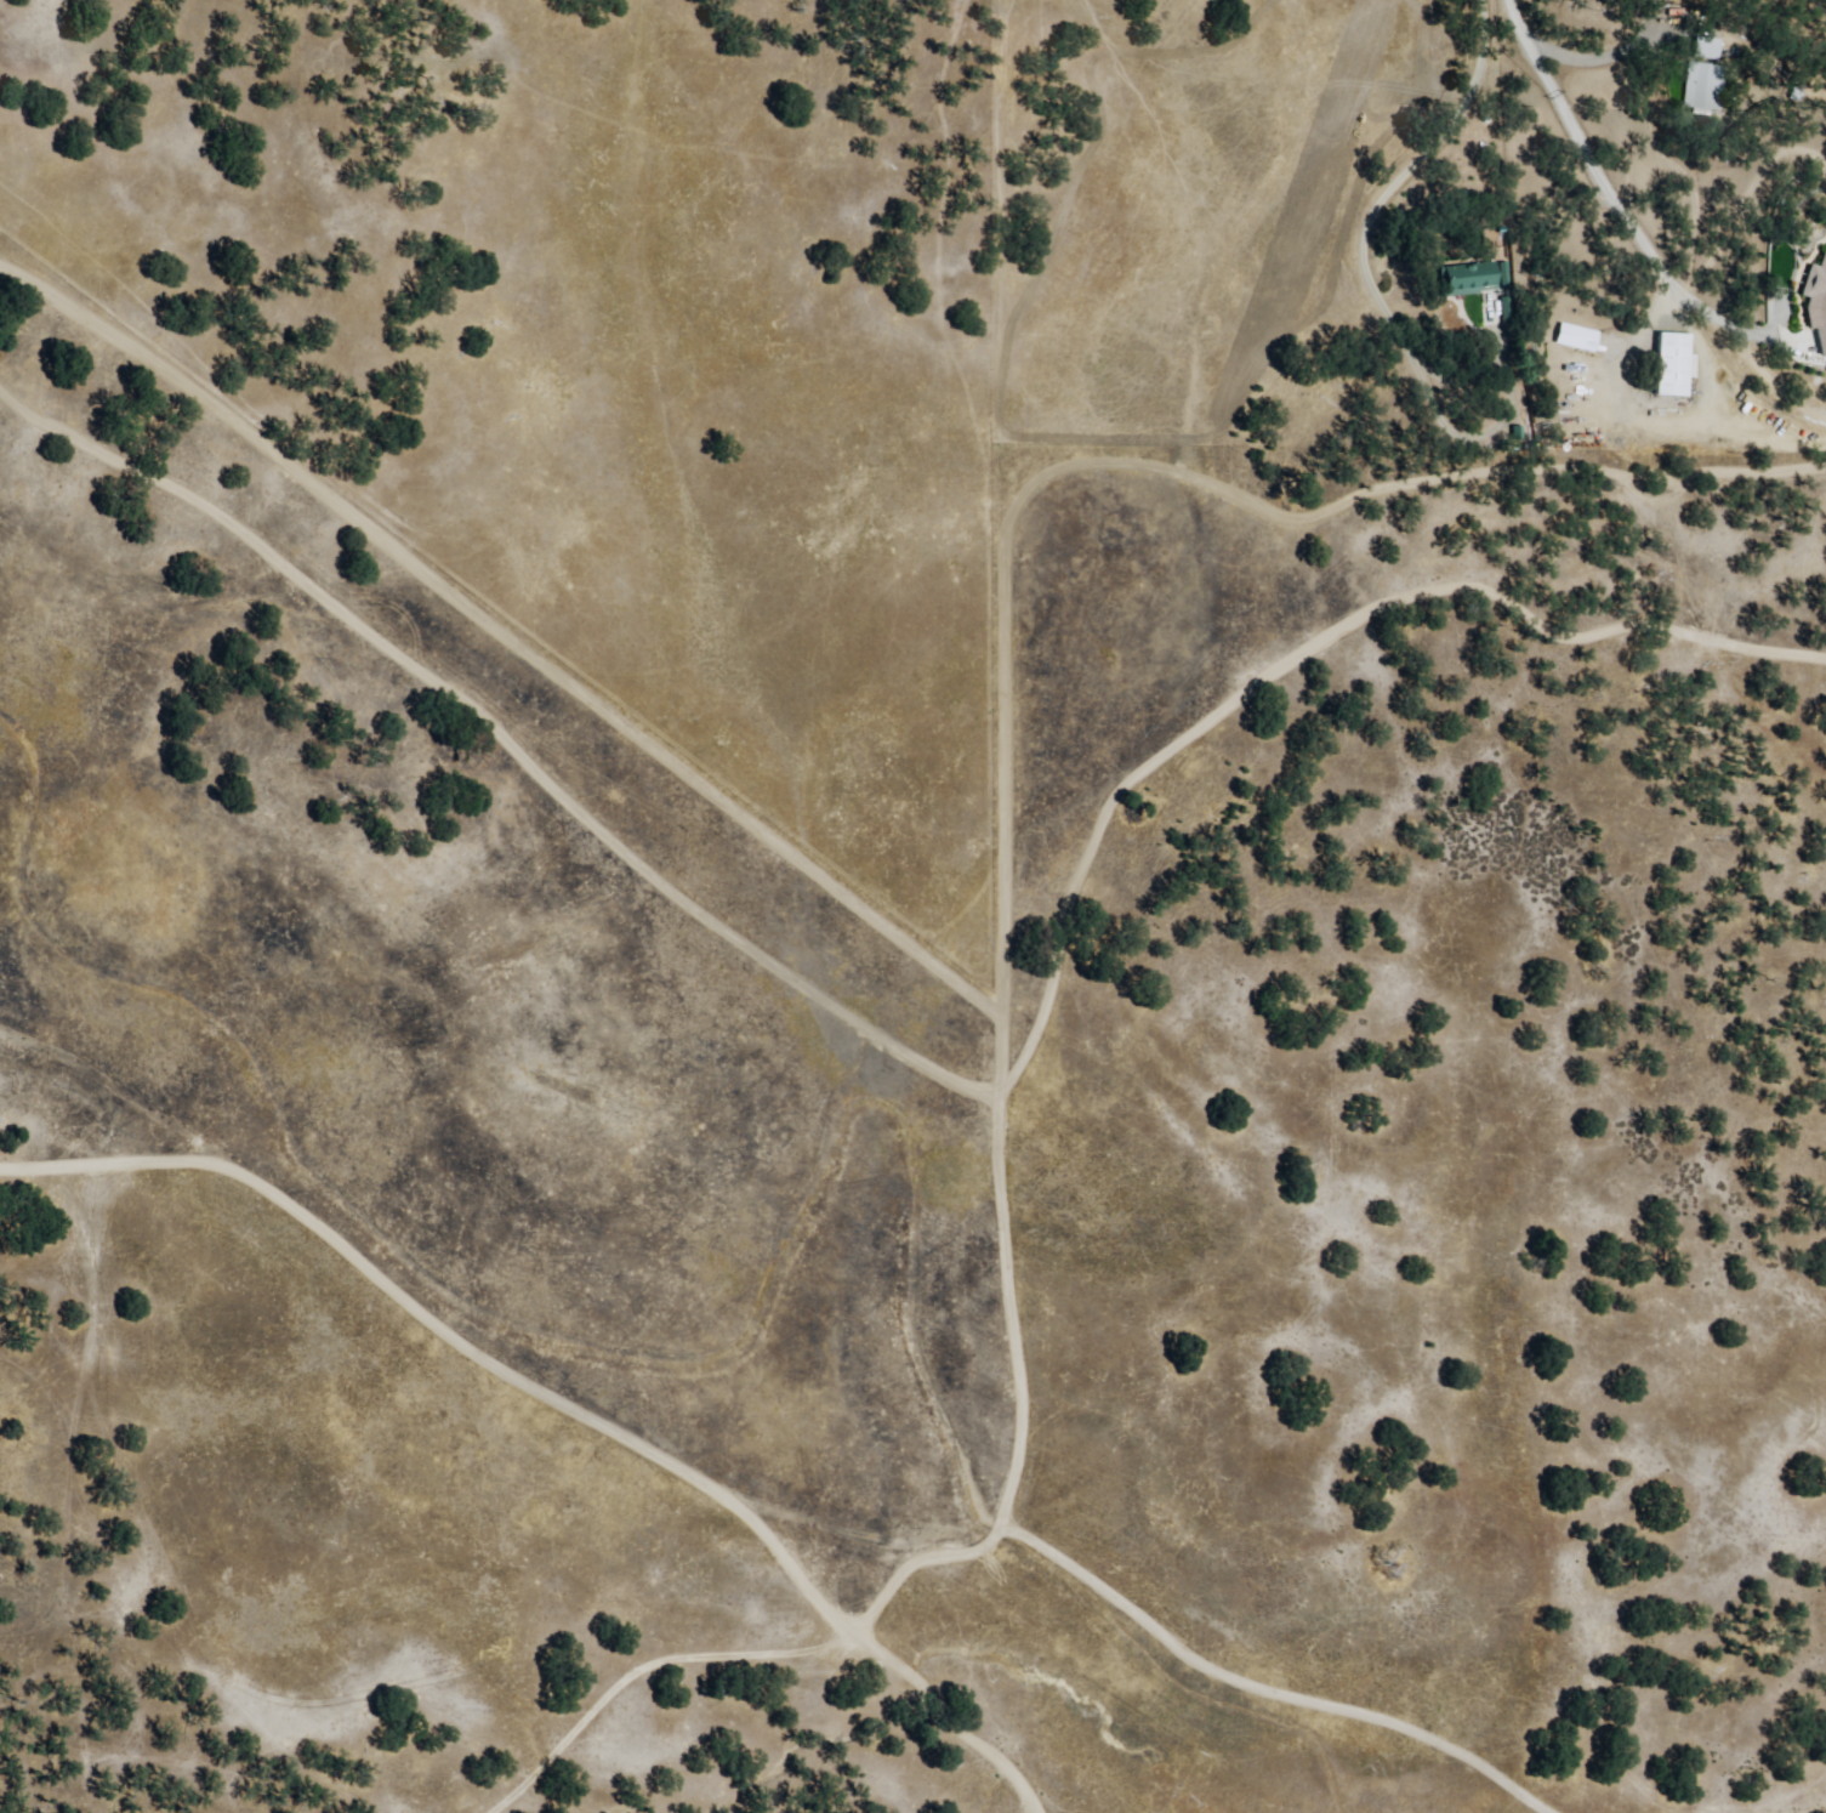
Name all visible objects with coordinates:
building: (1701, 49)
building: (1696, 89)
building: (1466, 282)
building: (1815, 302)
building: (1570, 339)
building: (1666, 365)
road: (461, 677)
road: (1109, 765)
road: (56, 1118)
road: (910, 1192)
road: (330, 1246)
road: (450, 1317)
road: (758, 1572)
road: (829, 1689)

